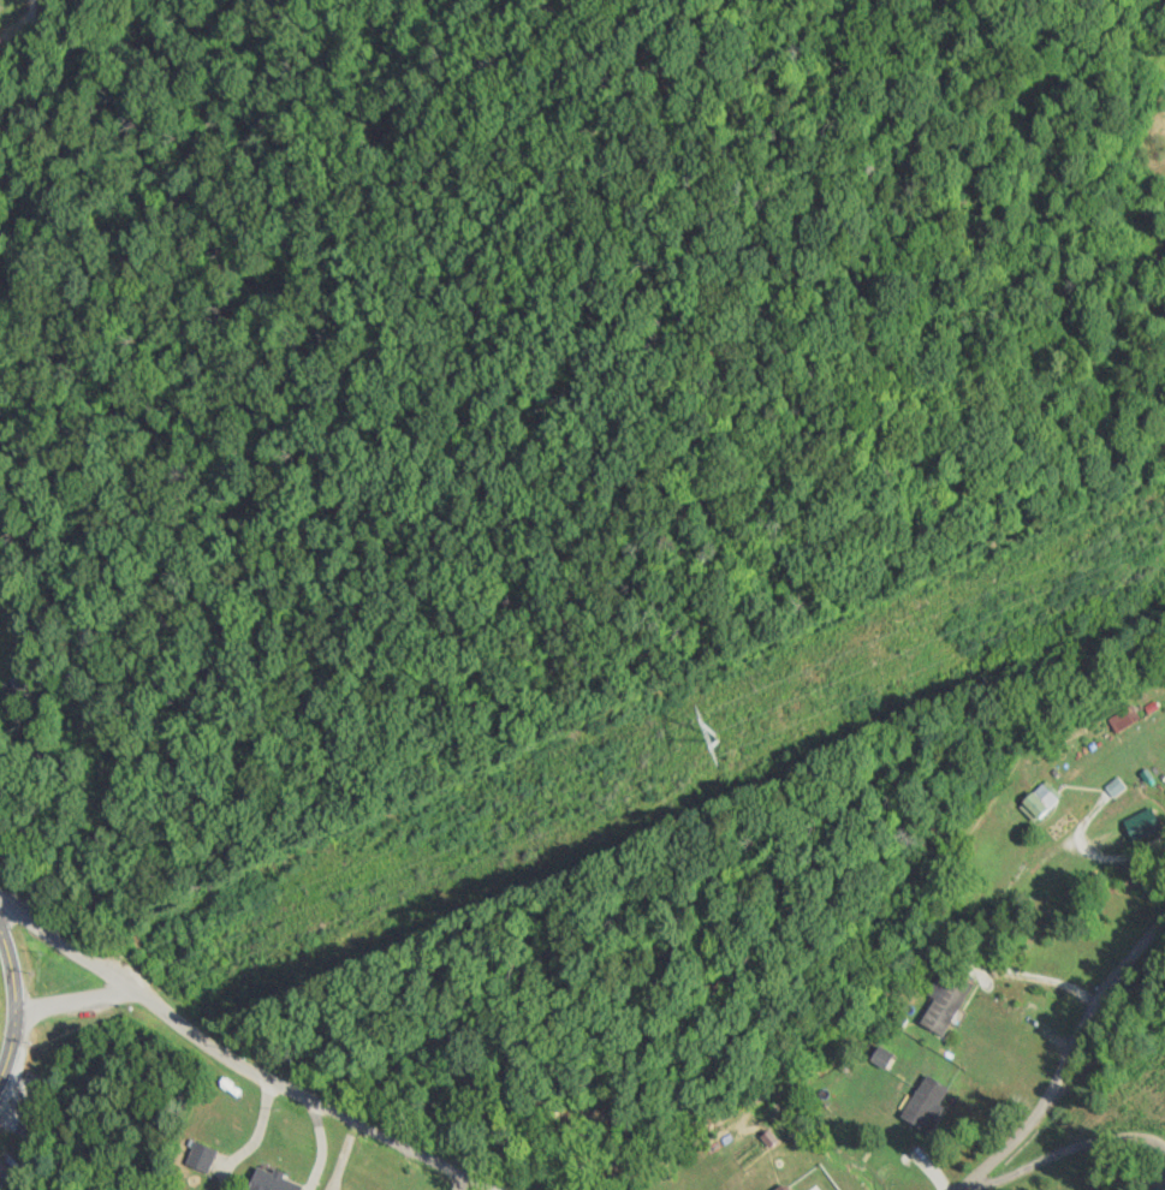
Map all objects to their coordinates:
building: (1122, 718)
power tower: (713, 743)
building: (1038, 799)
building: (1142, 826)
road: (70, 947)
road: (885, 974)
building: (945, 1001)
road: (78, 1002)
road: (16, 1004)
road: (1065, 1061)
road: (310, 1101)
building: (925, 1102)
building: (745, 1173)
building: (271, 1182)

